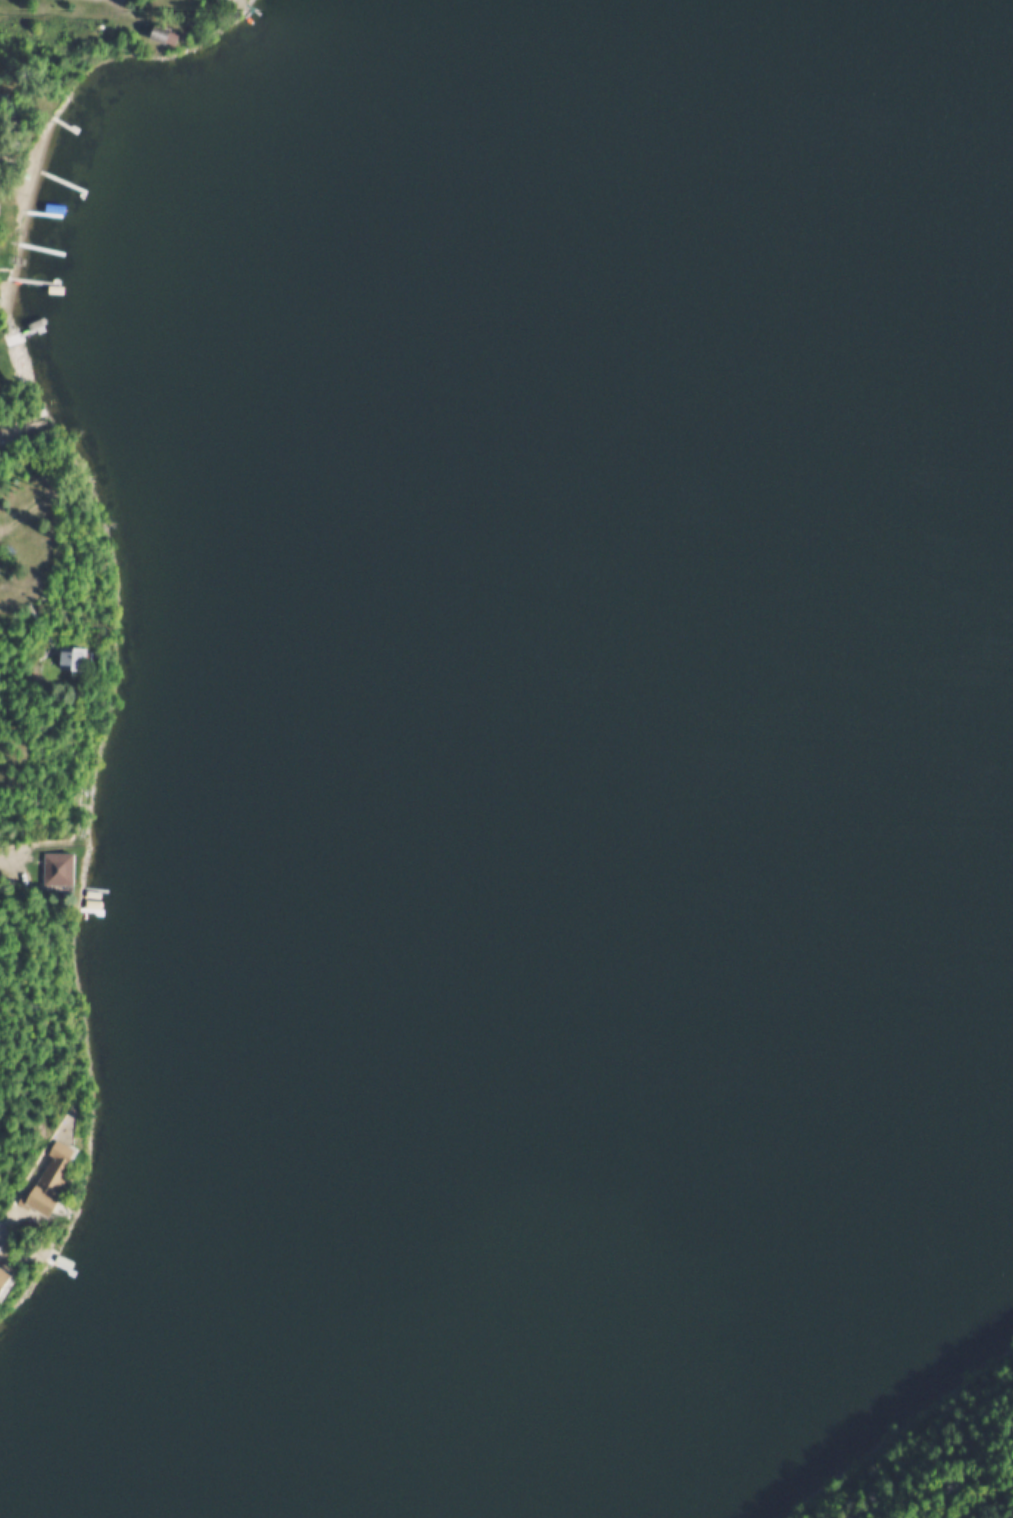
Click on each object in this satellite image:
road: (69, 1)
building: (153, 34)
building: (9, 102)
building: (60, 659)
building: (77, 659)
road: (23, 684)
building: (70, 795)
building: (51, 868)
road: (26, 1160)
building: (42, 1178)
building: (5, 1281)

